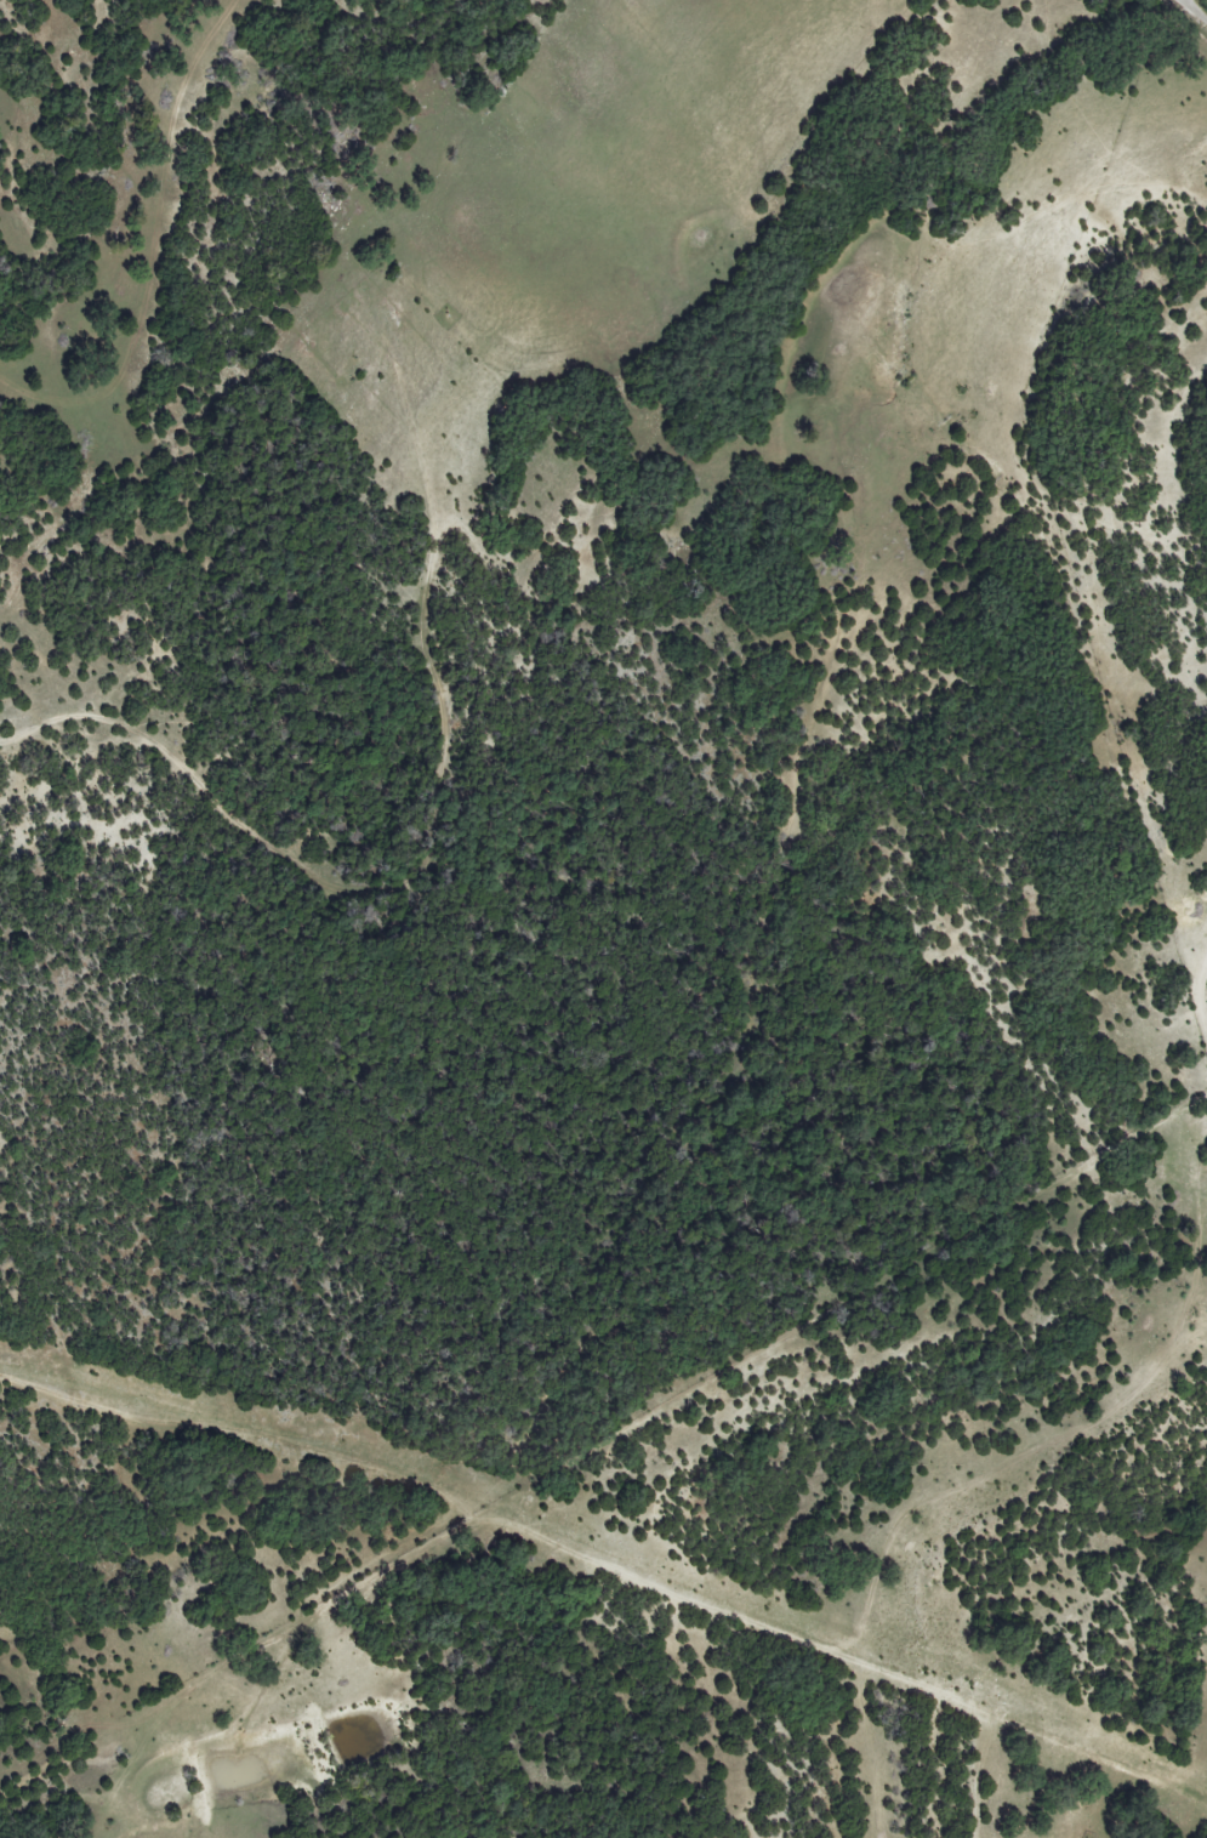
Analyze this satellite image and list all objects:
road: (1200, 5)

